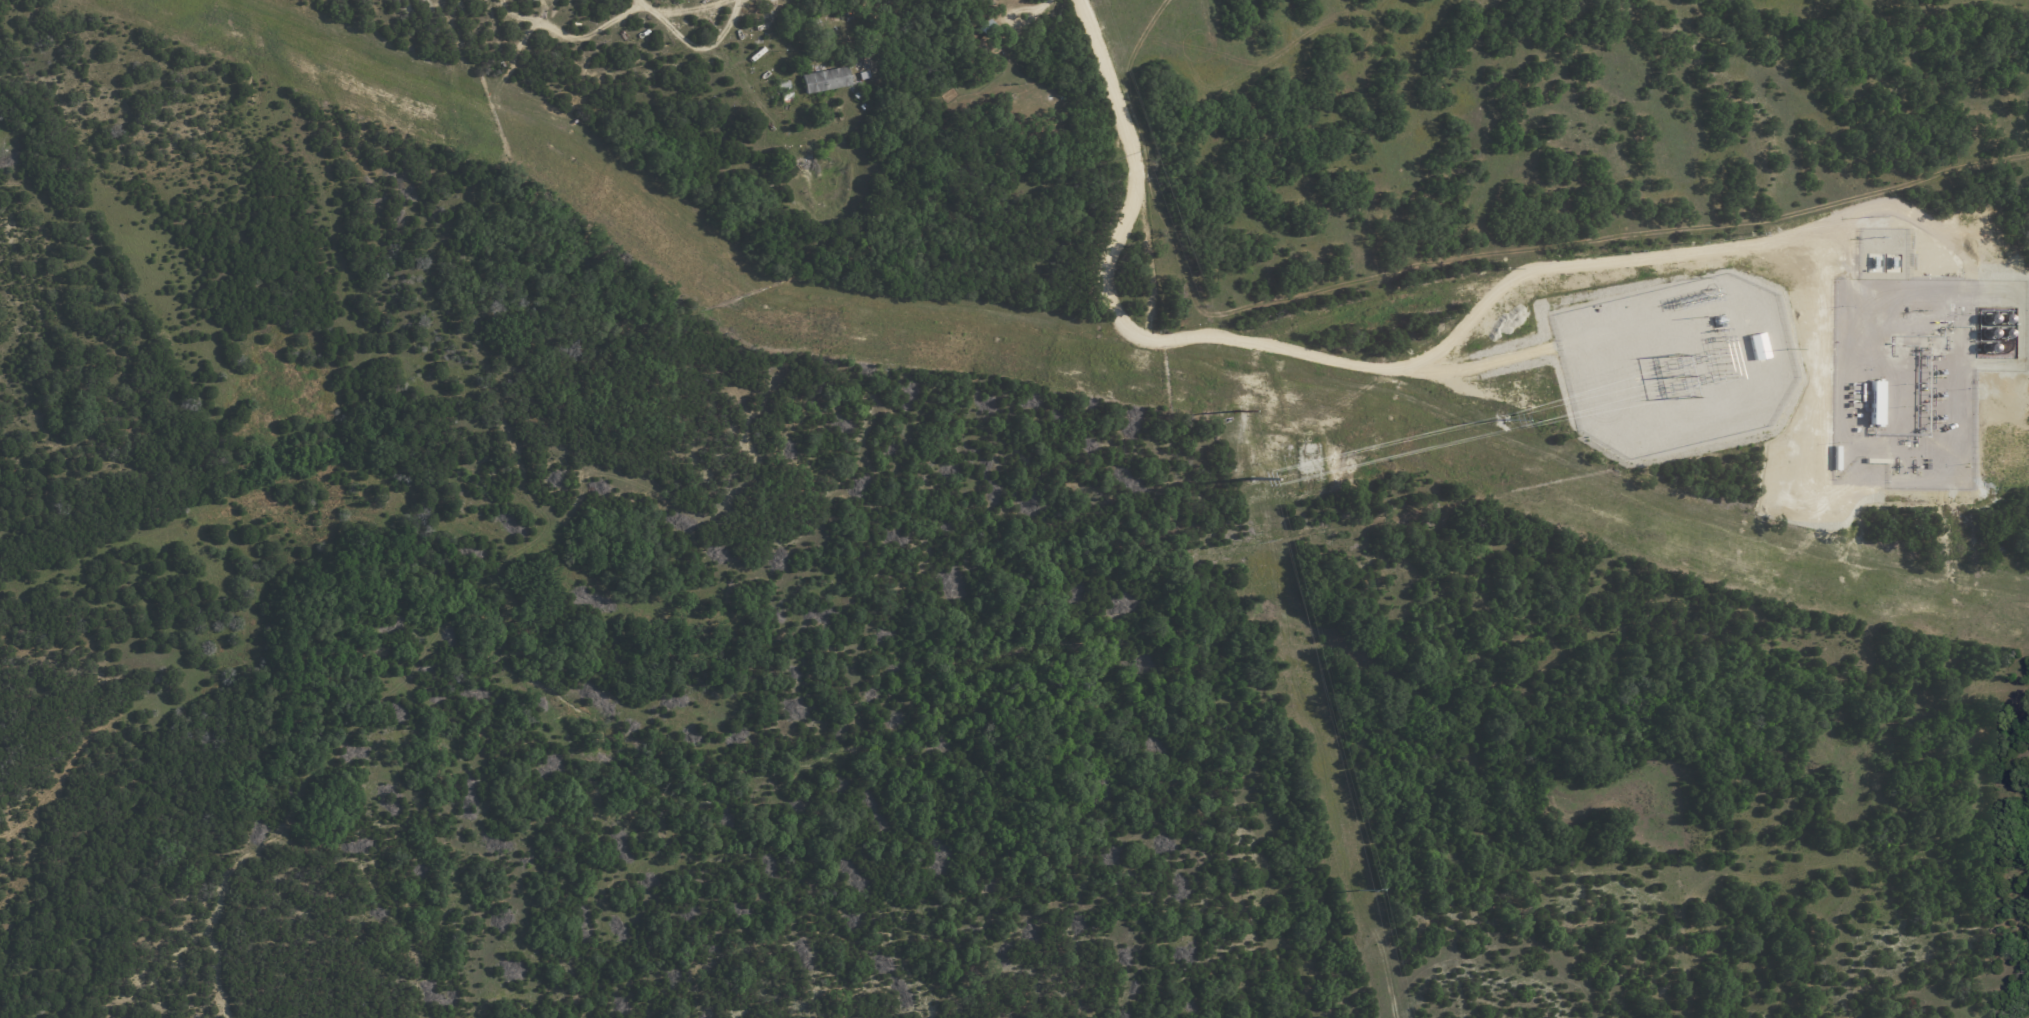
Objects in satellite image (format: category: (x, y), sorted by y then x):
road: (1030, 10)
building: (862, 70)
building: (825, 80)
road: (1127, 137)
road: (1456, 337)
road: (1480, 364)
power tower: (1235, 410)
power tower: (1360, 889)

